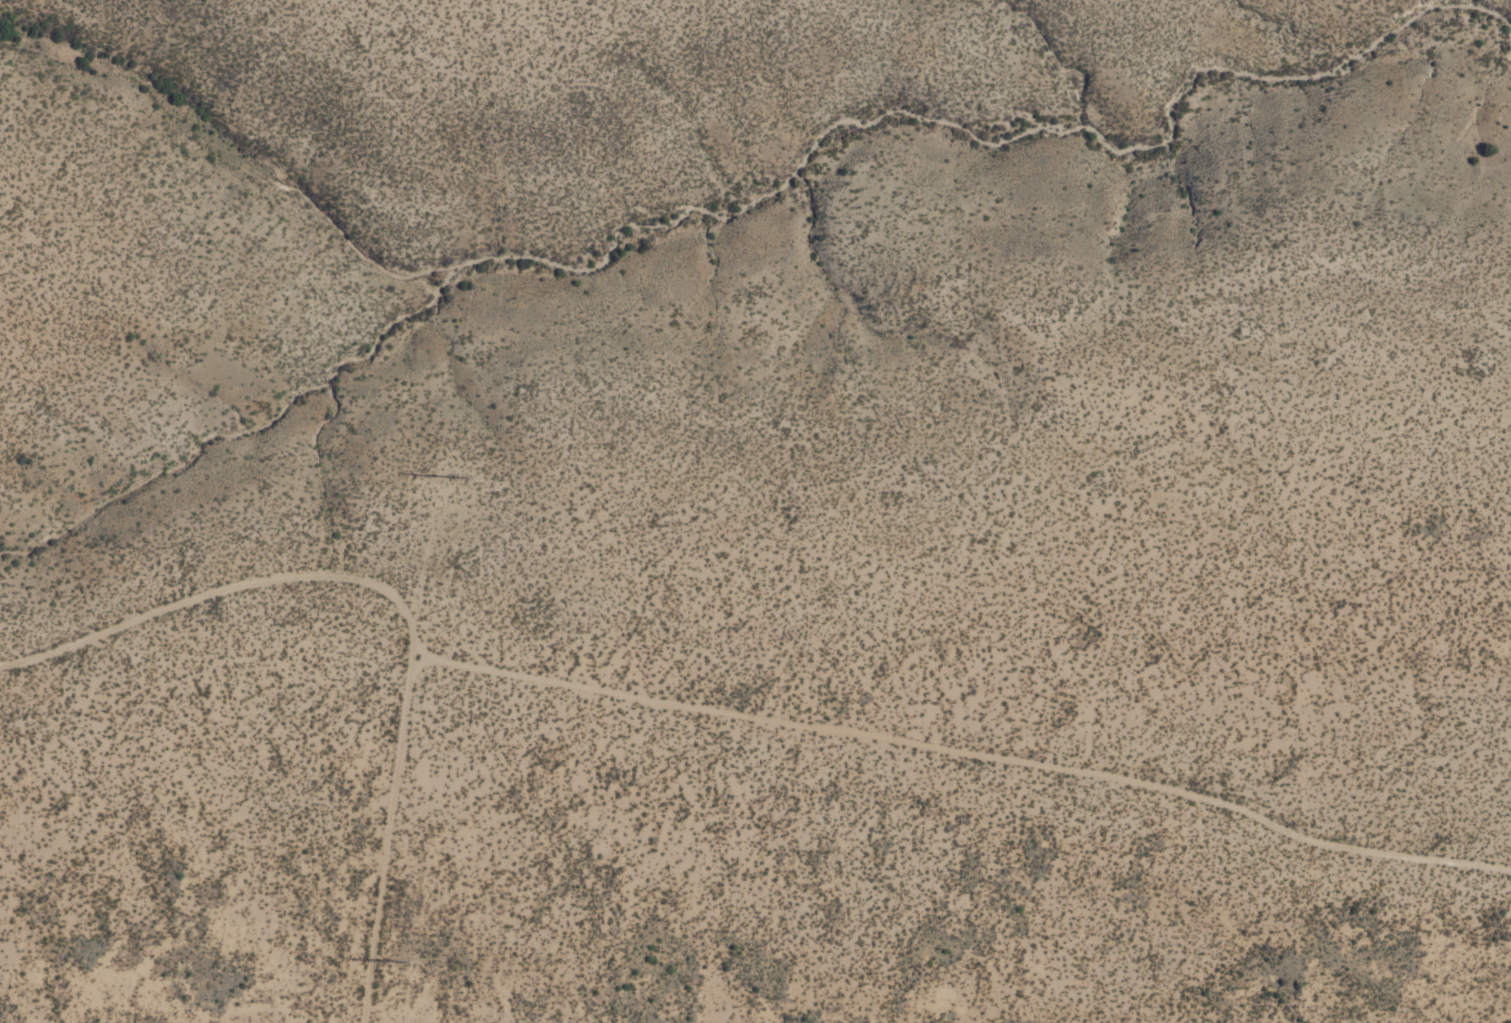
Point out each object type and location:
power tower: (457, 476)
road: (395, 608)
power tower: (397, 960)

